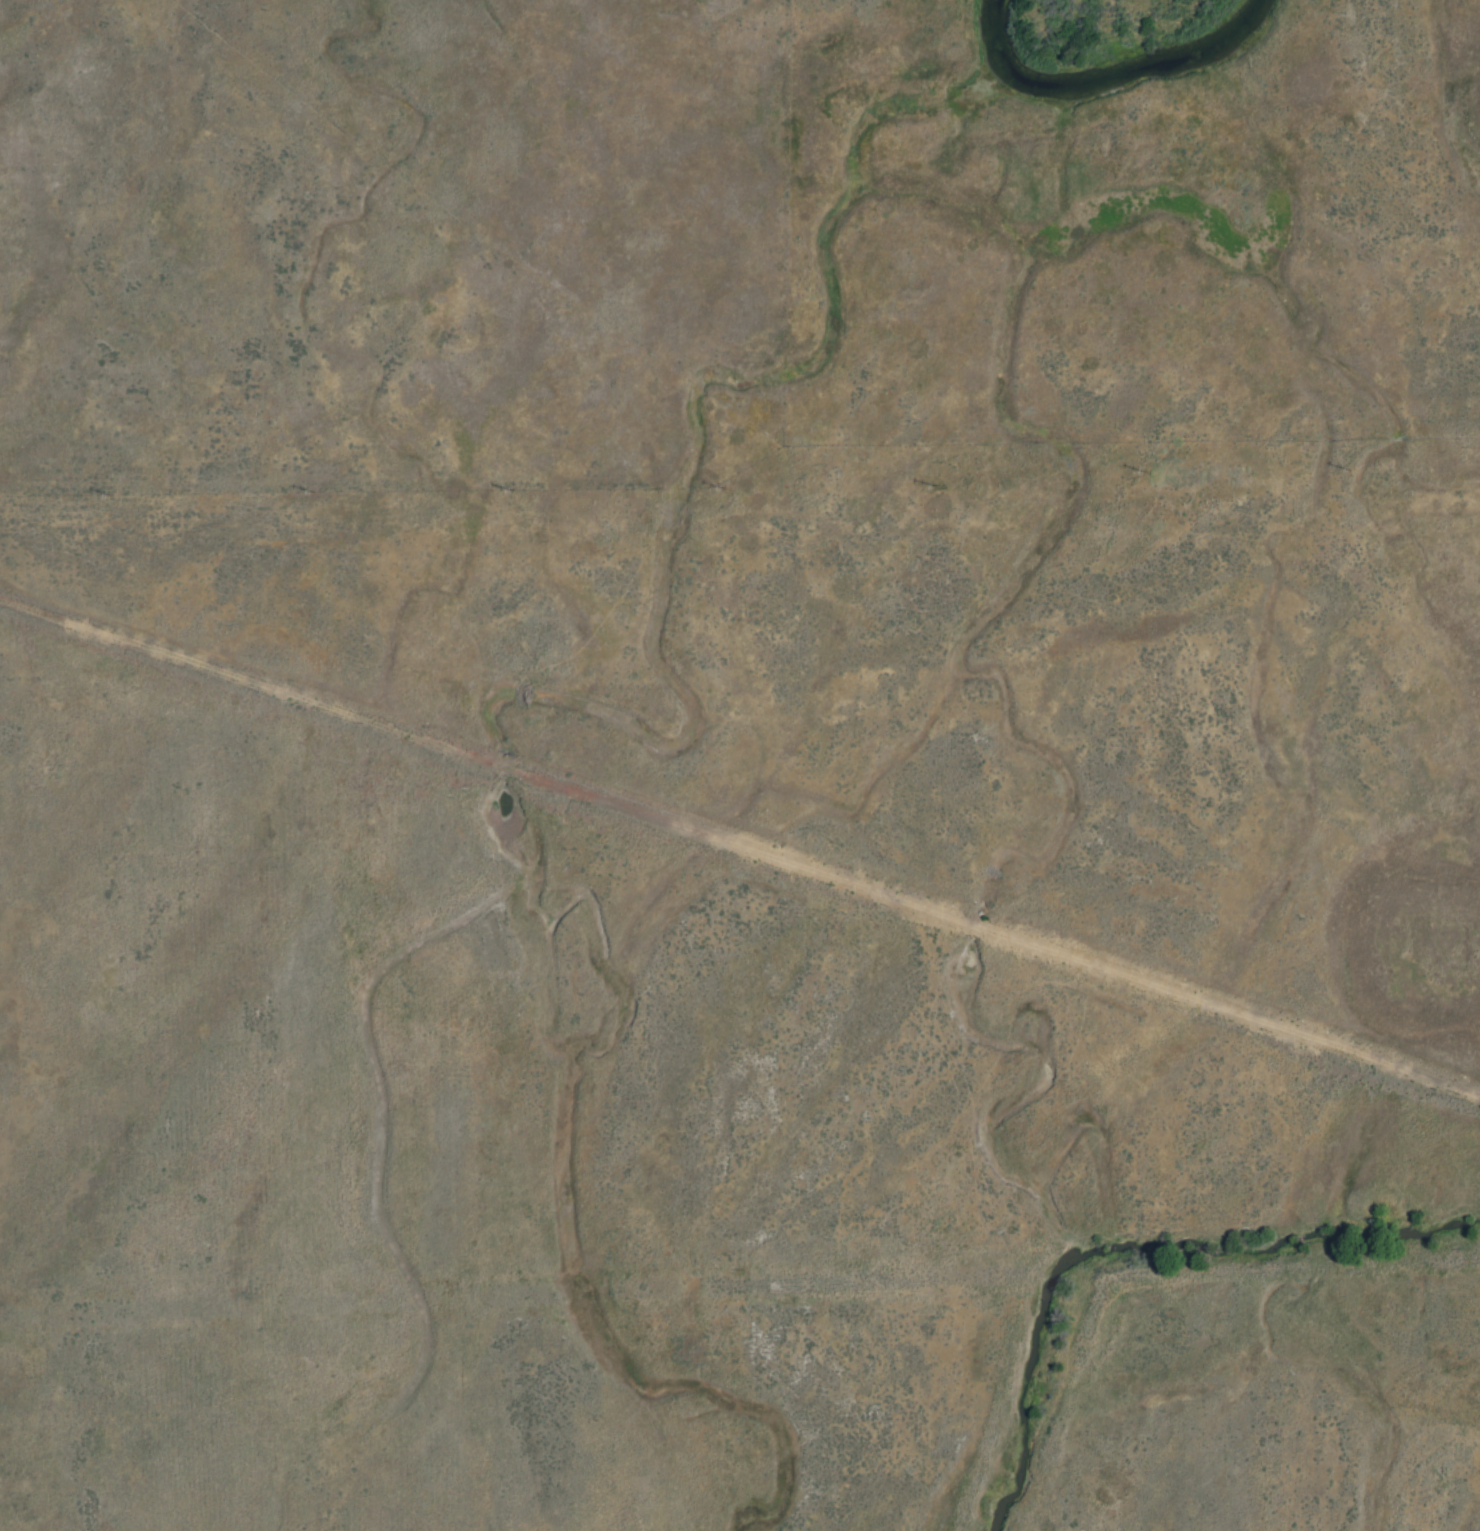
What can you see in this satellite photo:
road: (741, 842)

